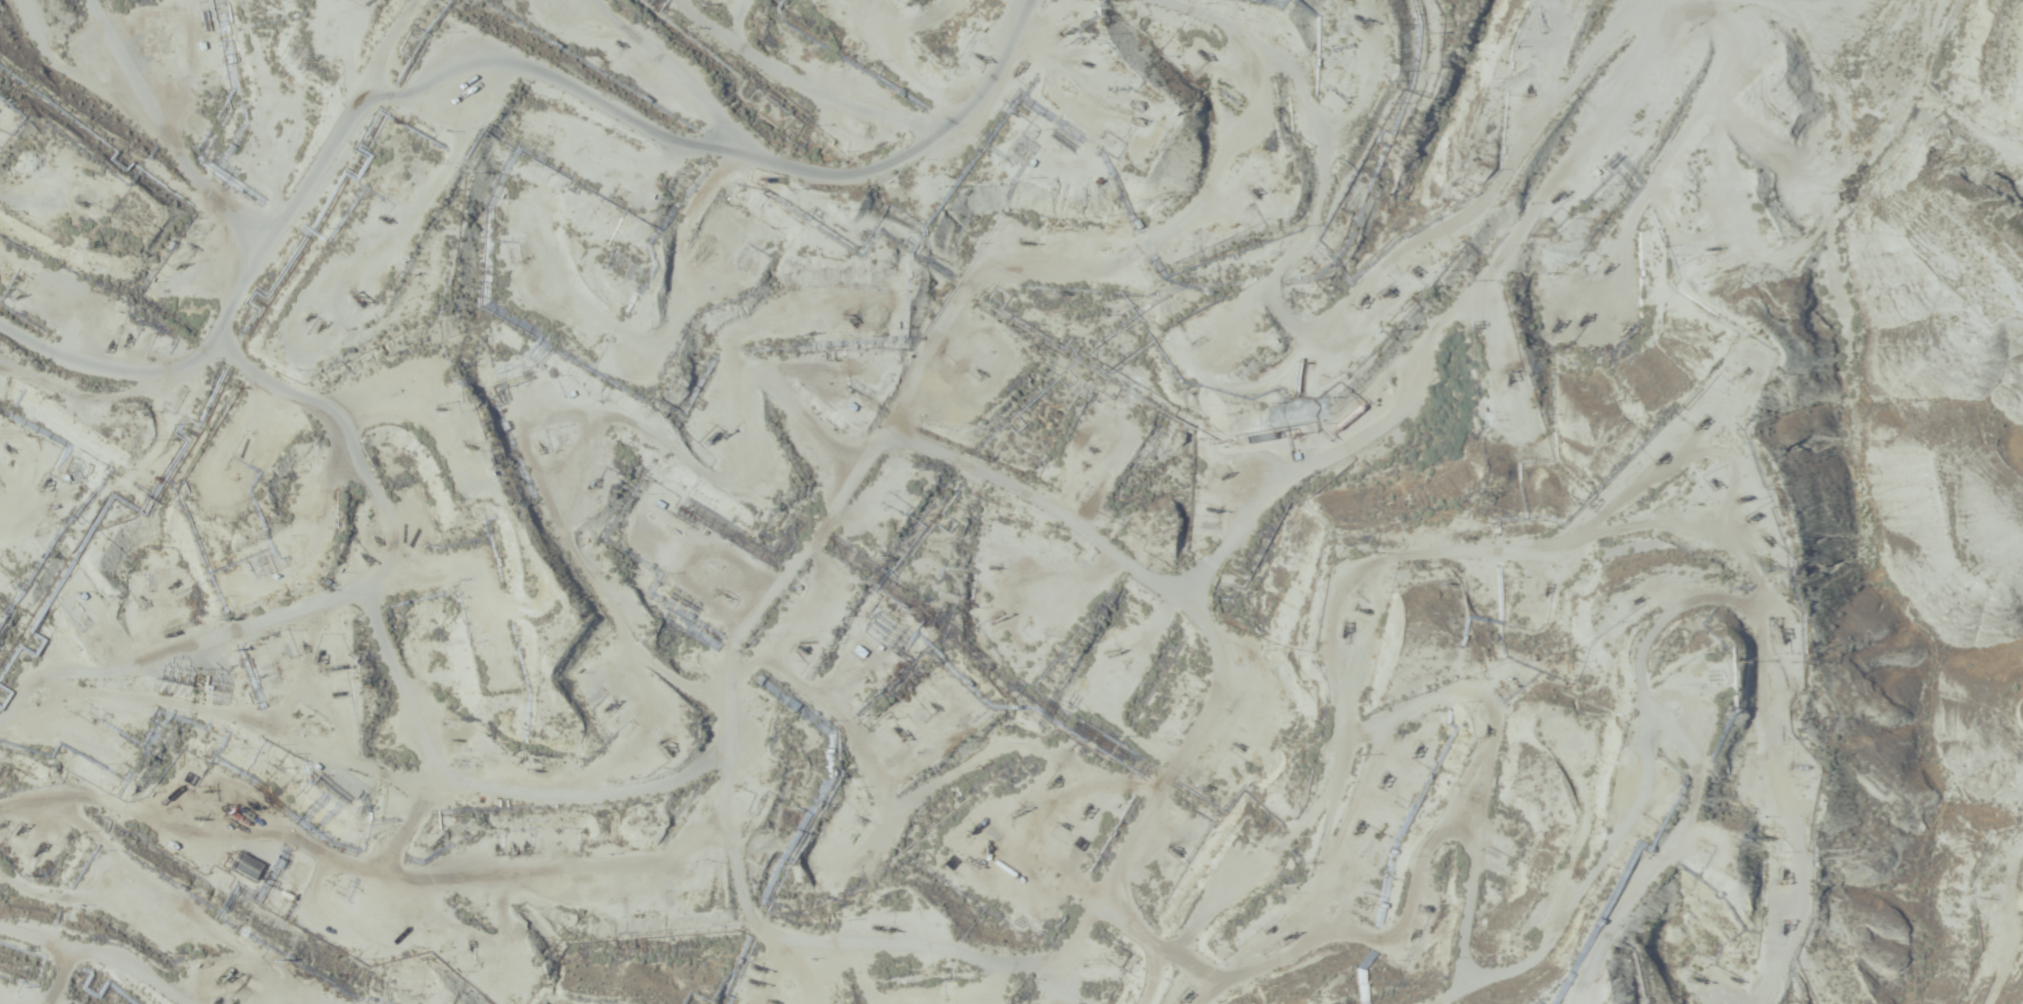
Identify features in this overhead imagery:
building: (251, 866)
building: (1364, 986)

